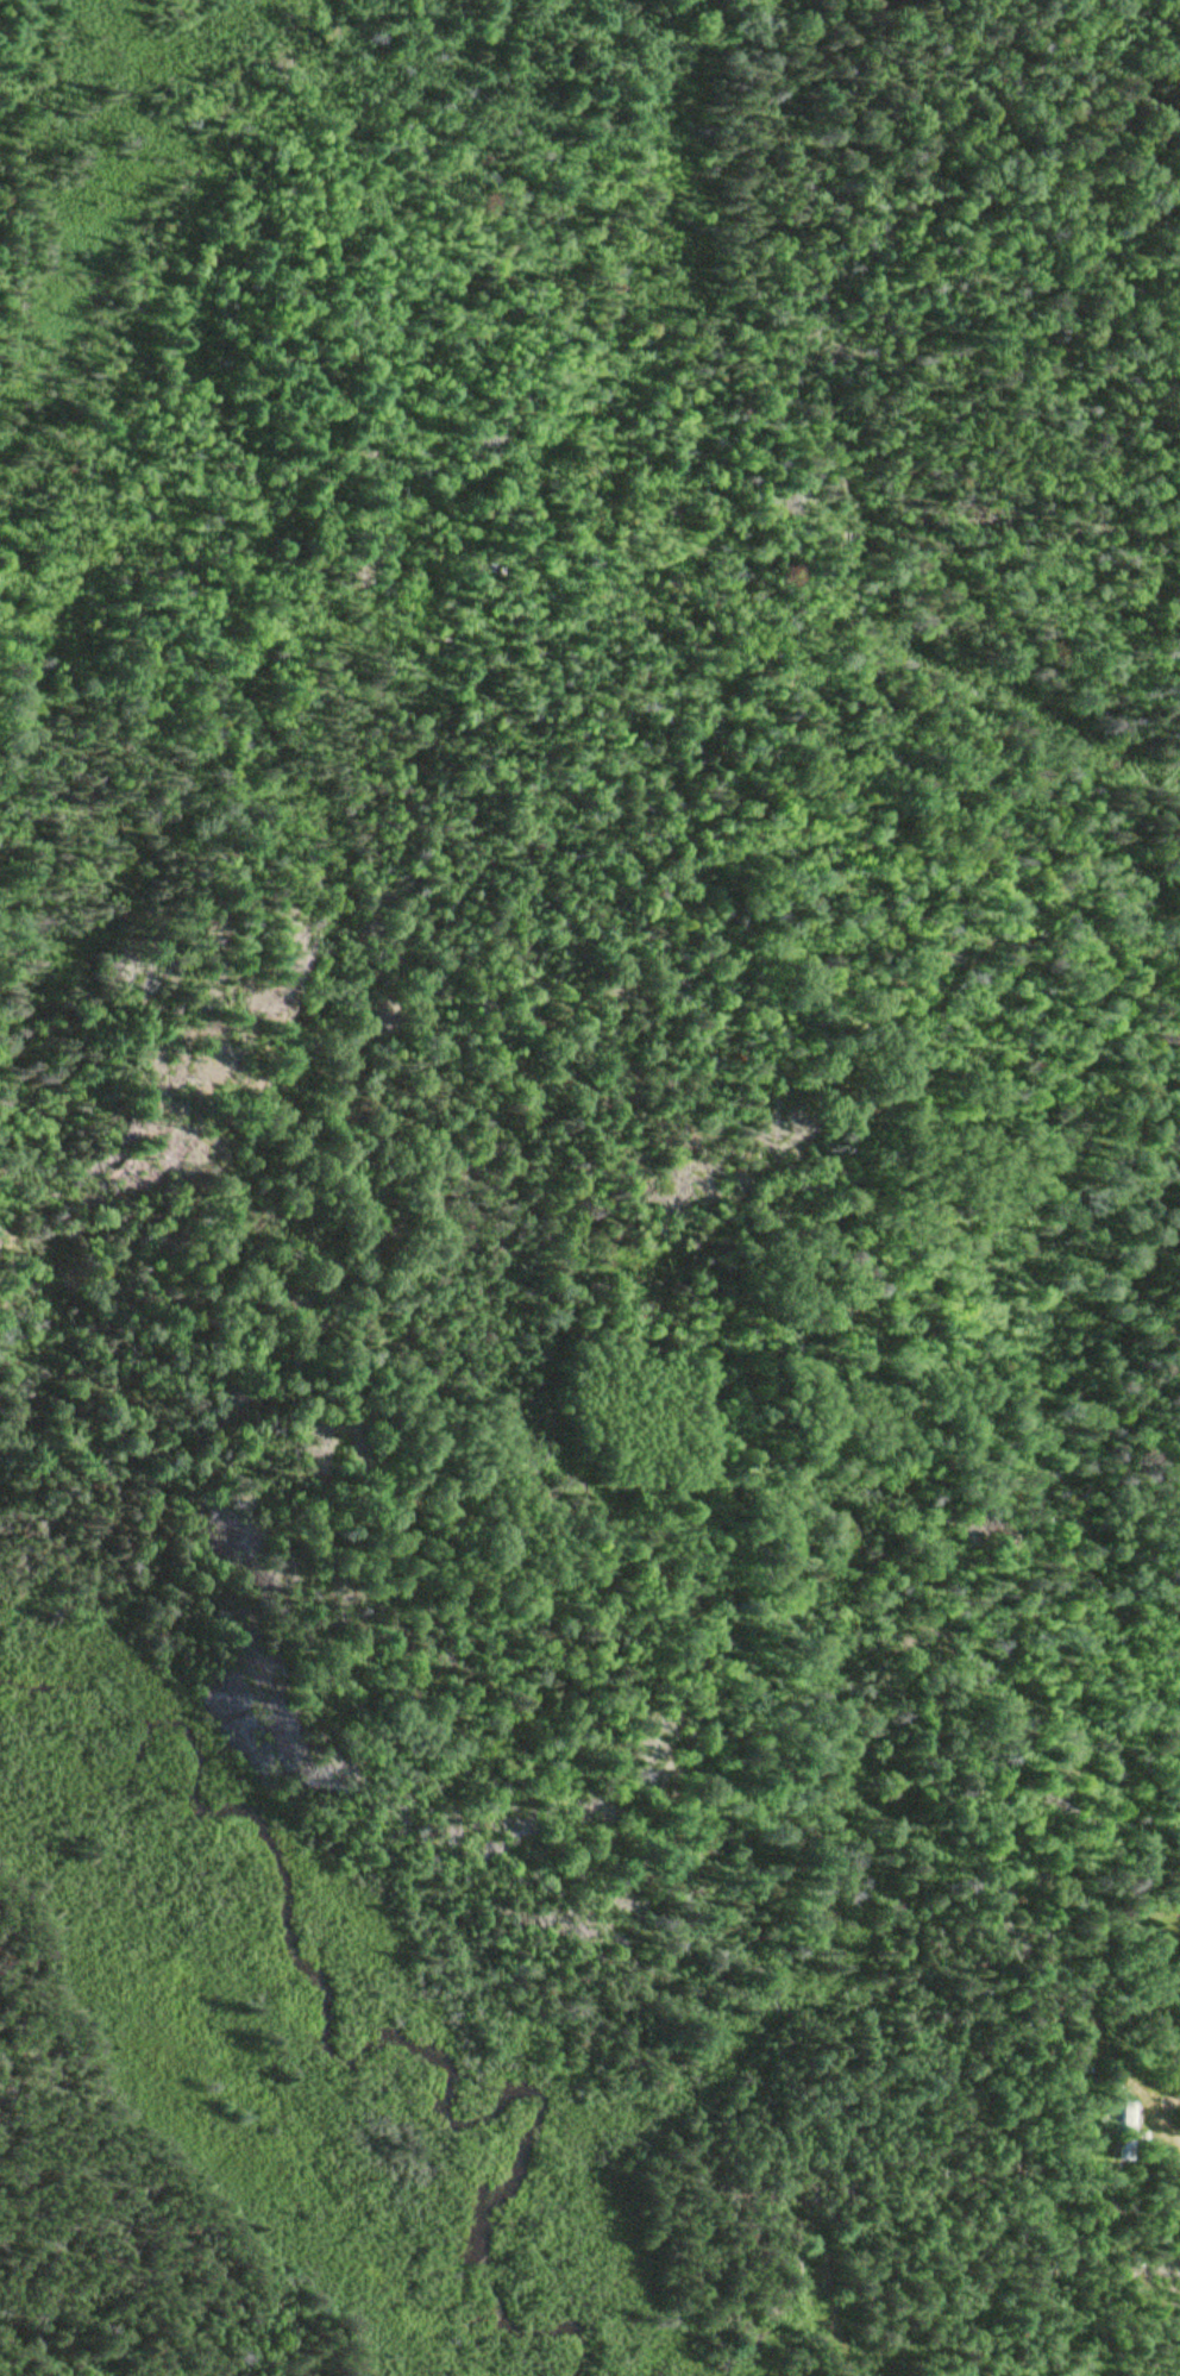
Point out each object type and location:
building: (1122, 2127)

